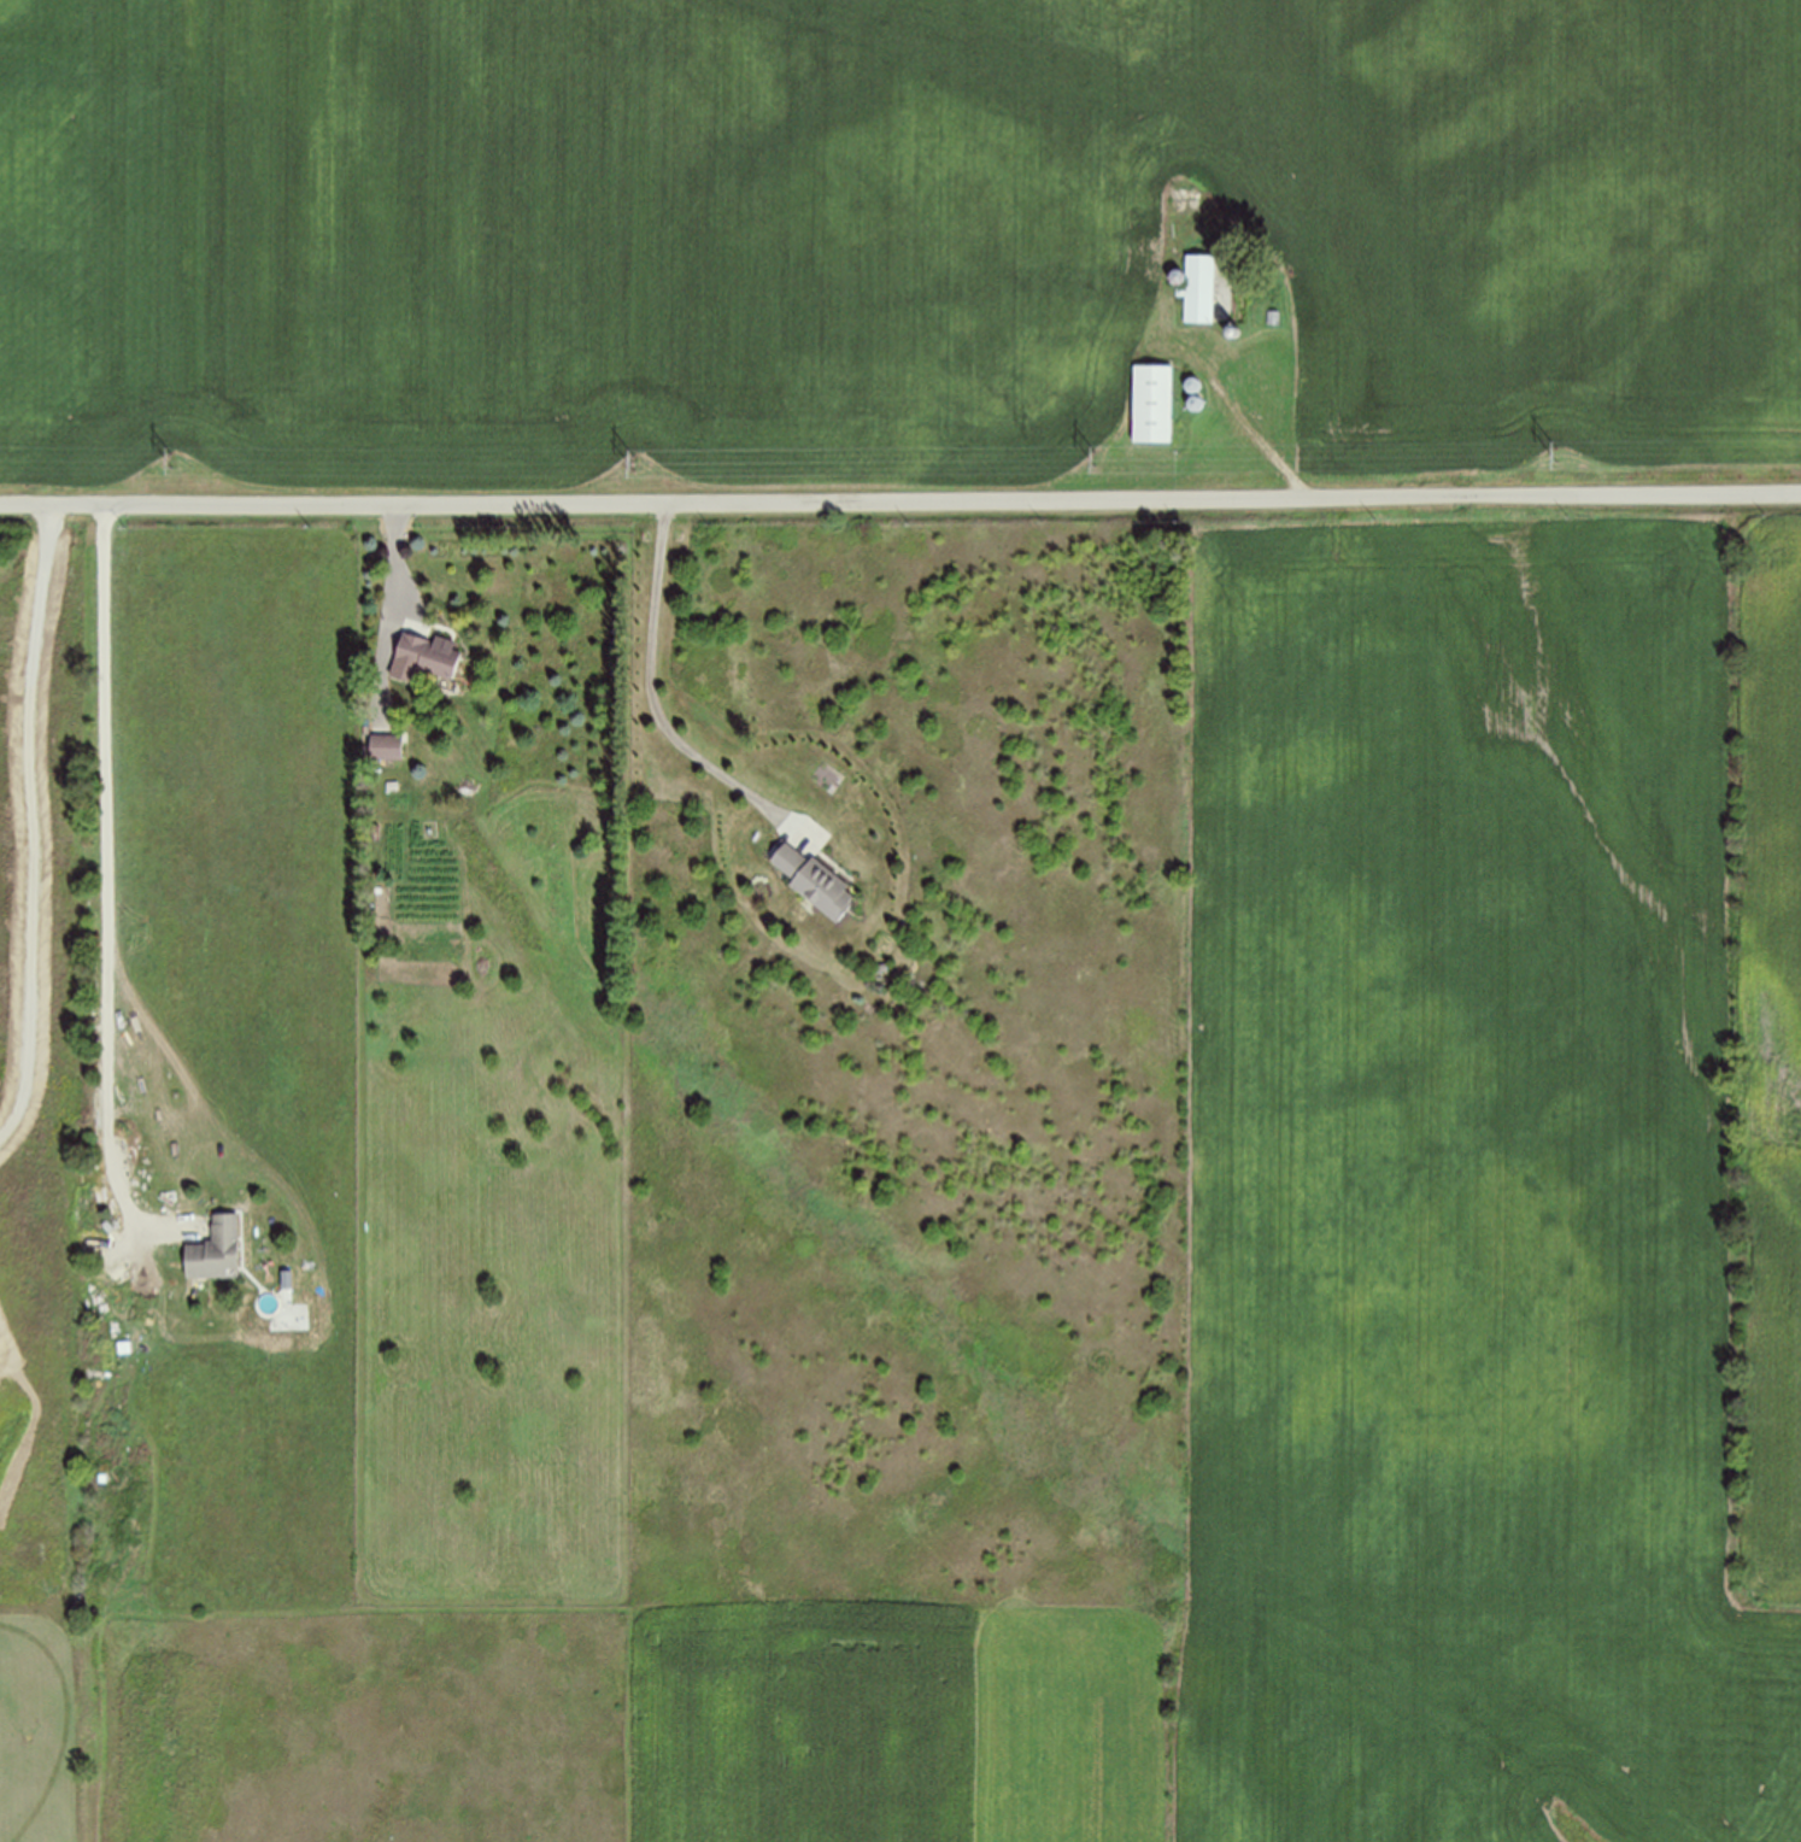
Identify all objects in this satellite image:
building: (1199, 289)
building: (1152, 404)
road: (1243, 417)
road: (899, 500)
road: (399, 617)
building: (424, 658)
road: (656, 705)
building: (388, 747)
building: (816, 882)
road: (108, 897)
building: (215, 1248)

